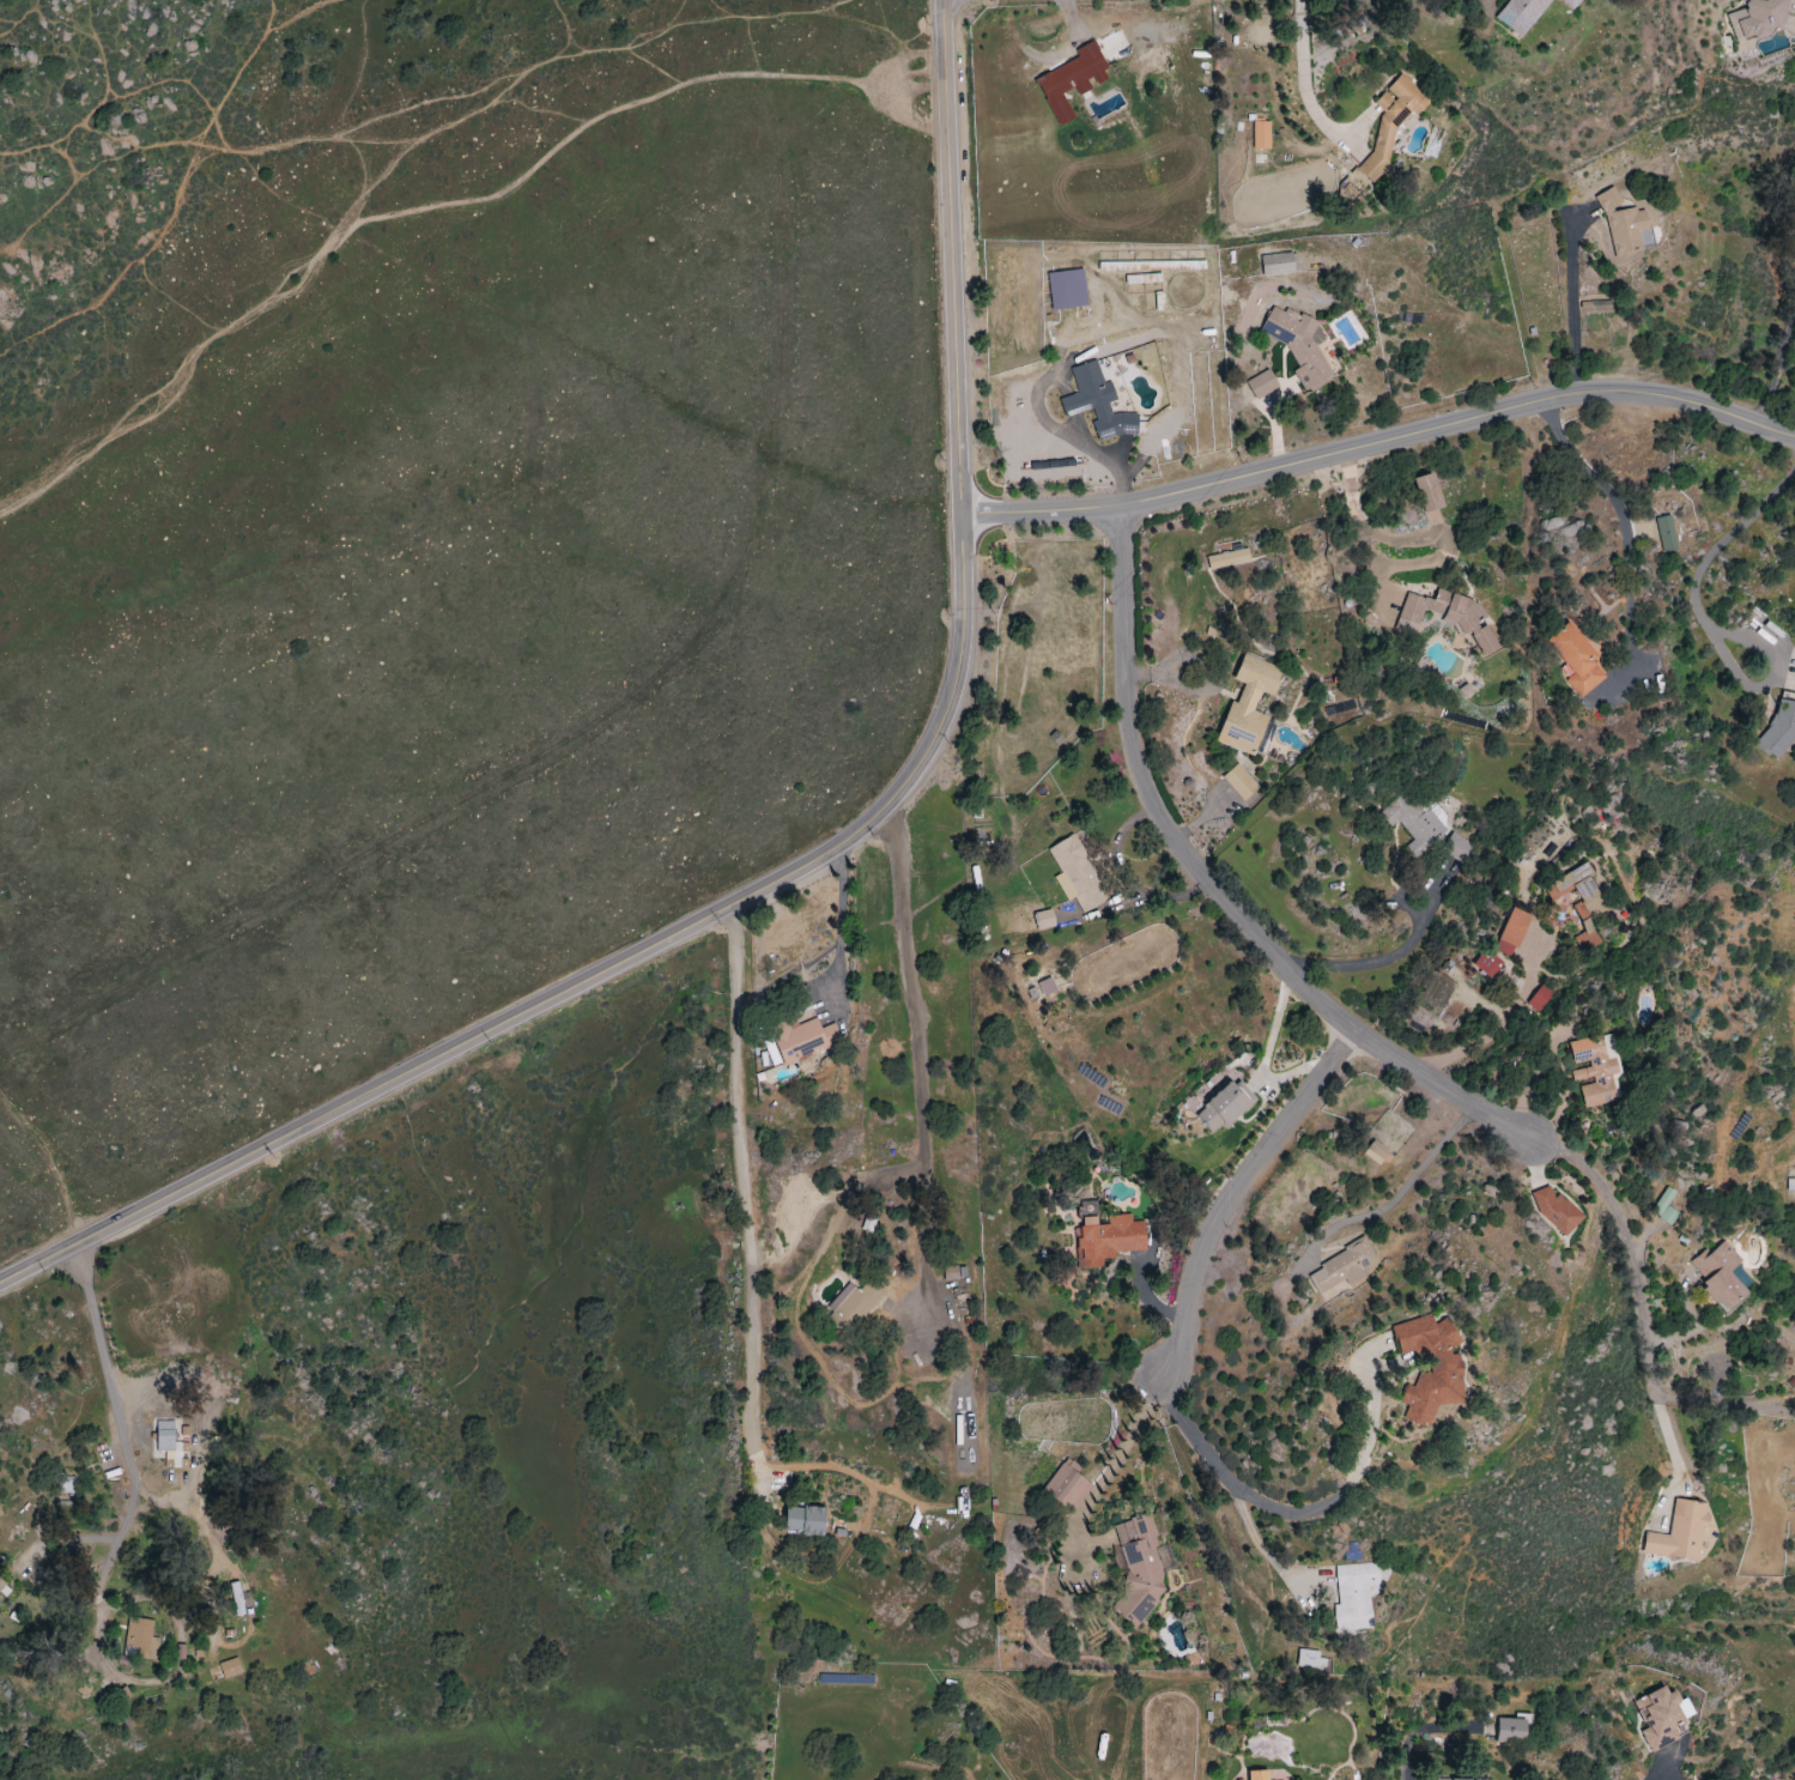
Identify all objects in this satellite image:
building: (1572, 4)
building: (1522, 14)
building: (1760, 18)
building: (1073, 80)
road: (1304, 80)
building: (1391, 122)
building: (1262, 134)
road: (449, 214)
building: (1278, 264)
building: (1068, 290)
road: (1571, 303)
building: (1299, 345)
road: (1776, 362)
building: (1262, 385)
building: (1098, 404)
road: (1381, 442)
building: (1430, 492)
road: (1644, 520)
building: (1666, 534)
road: (1730, 535)
building: (1229, 559)
building: (1448, 617)
building: (1577, 659)
road: (1773, 680)
building: (1250, 706)
building: (1781, 731)
building: (1241, 782)
building: (1414, 823)
building: (1456, 848)
road: (813, 859)
building: (1078, 874)
building: (1581, 902)
building: (1035, 922)
building: (1512, 932)
road: (1383, 958)
building: (1488, 964)
building: (1048, 987)
road: (1317, 999)
building: (1540, 999)
road: (1500, 1022)
building: (805, 1041)
building: (774, 1055)
road: (916, 1067)
building: (1595, 1071)
building: (1225, 1104)
building: (1790, 1185)
road: (1237, 1194)
road: (1396, 1197)
building: (1664, 1206)
building: (1557, 1209)
road: (754, 1224)
building: (1110, 1239)
building: (1347, 1267)
building: (952, 1273)
building: (1722, 1275)
building: (851, 1306)
building: (1445, 1363)
road: (1723, 1404)
road: (116, 1406)
road: (1191, 1436)
road: (1664, 1436)
building: (168, 1443)
building: (1124, 1455)
road: (1112, 1459)
road: (1347, 1482)
building: (1067, 1483)
building: (807, 1520)
building: (1681, 1532)
road: (1265, 1552)
building: (1138, 1569)
building: (1, 1584)
building: (1356, 1596)
building: (238, 1598)
building: (140, 1640)
building: (1311, 1660)
building: (231, 1667)
building: (1662, 1717)
building: (1514, 1728)
building: (1260, 1775)
building: (1461, 1779)

